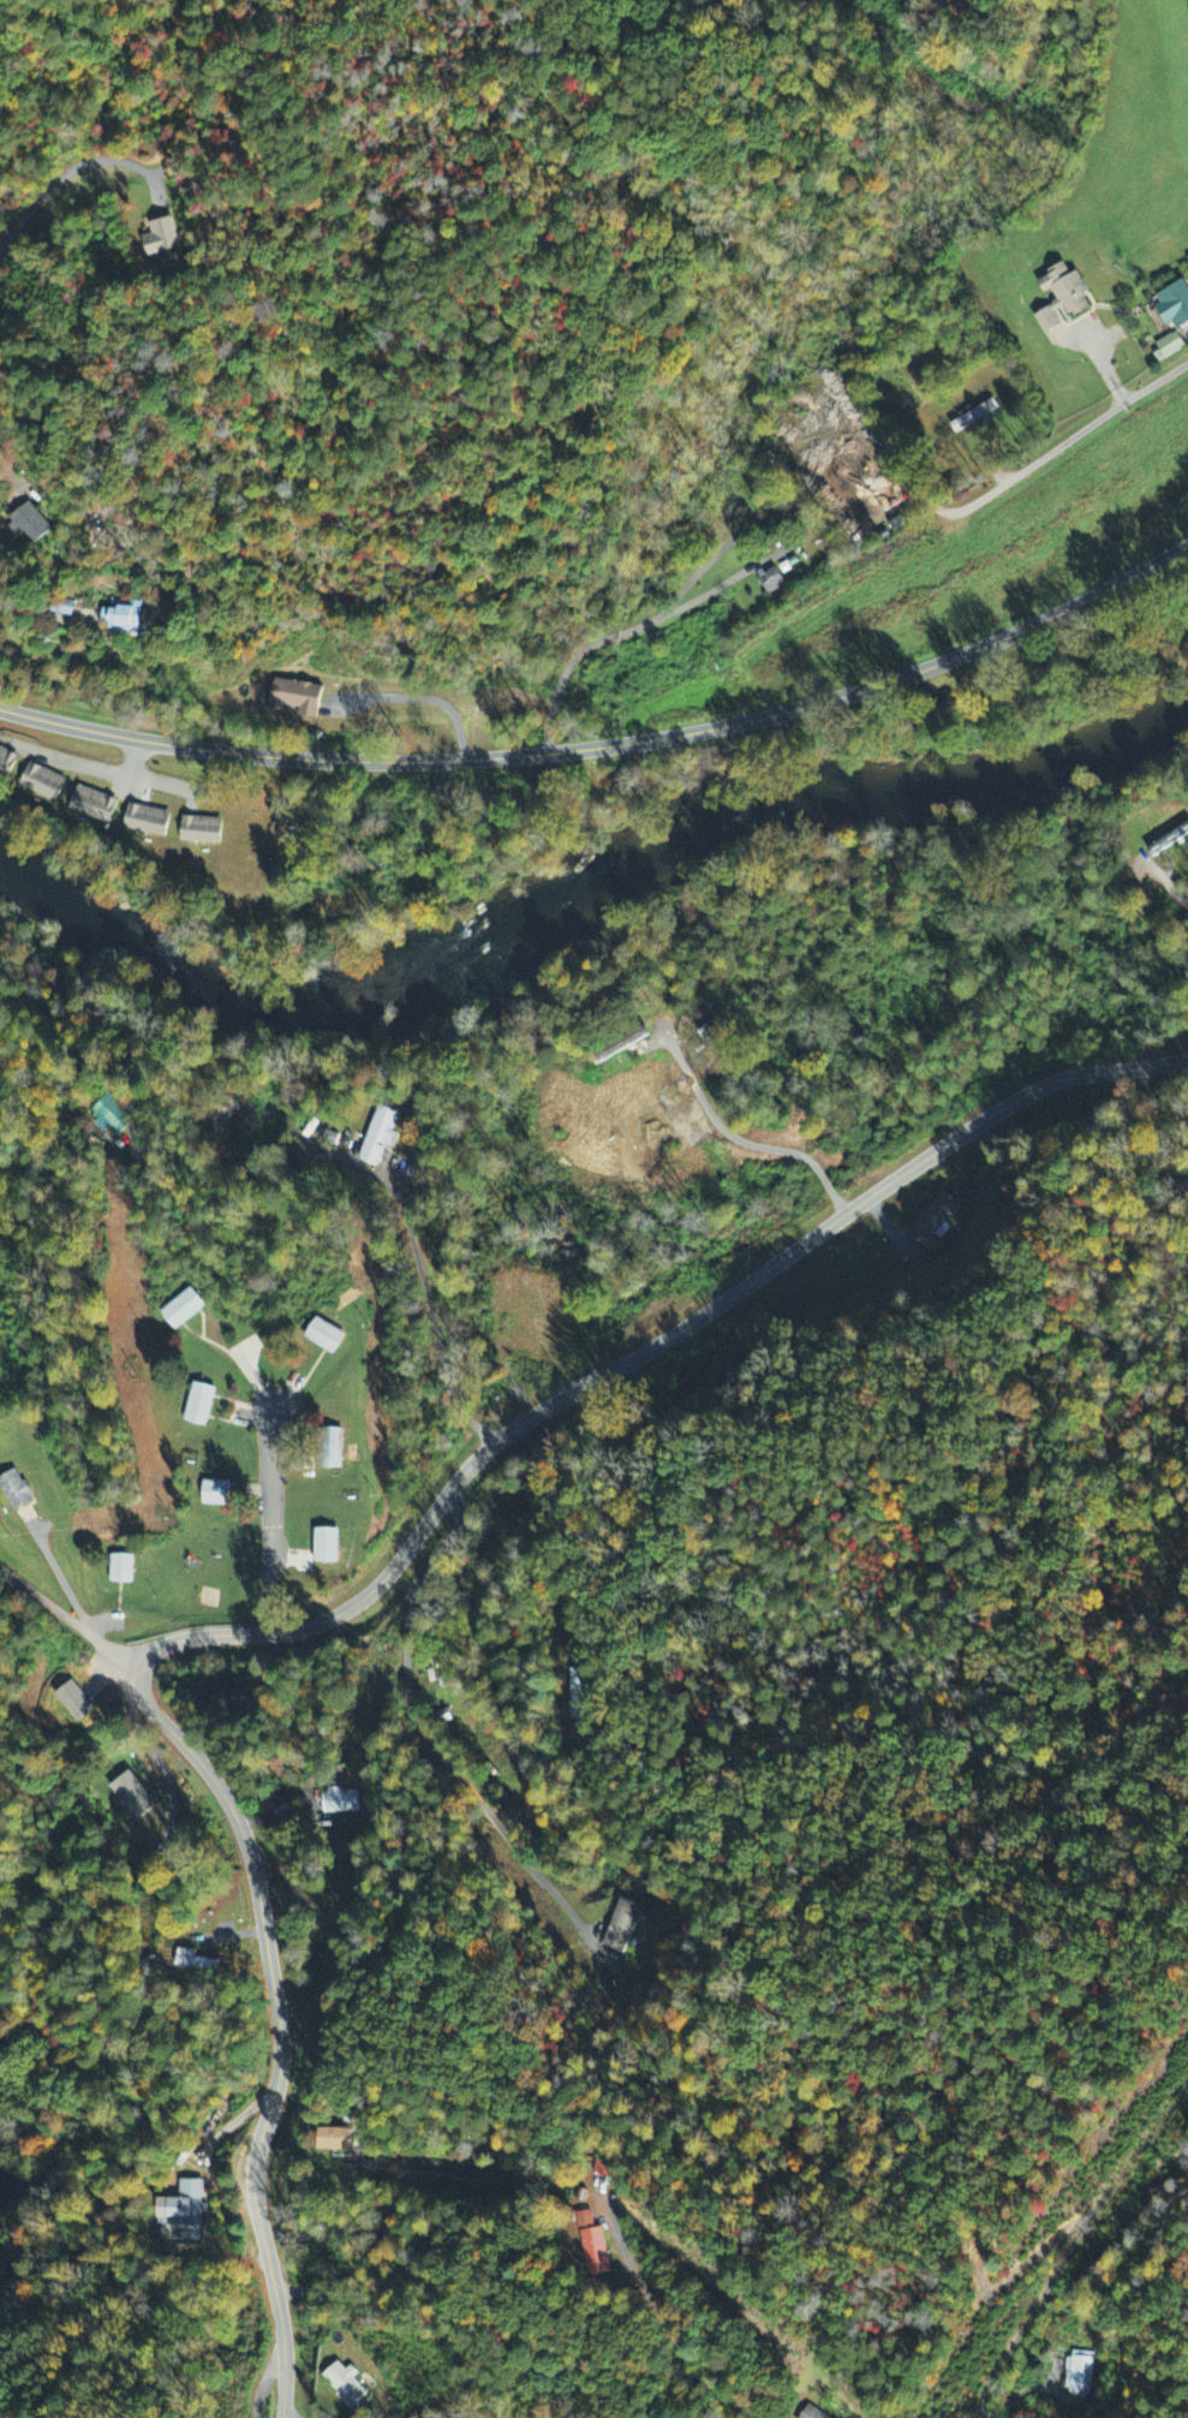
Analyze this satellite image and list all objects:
road: (58, 174)
building: (160, 239)
building: (1063, 298)
building: (1175, 306)
building: (1169, 347)
building: (974, 417)
road: (1070, 435)
building: (28, 525)
building: (771, 582)
building: (60, 608)
building: (120, 619)
road: (4, 697)
building: (295, 699)
road: (610, 745)
building: (7, 763)
building: (43, 784)
river: (885, 797)
building: (94, 806)
building: (147, 822)
building: (201, 832)
building: (1169, 842)
river: (287, 1010)
building: (621, 1044)
building: (112, 1115)
building: (380, 1134)
building: (933, 1220)
building: (183, 1309)
building: (324, 1336)
road: (649, 1348)
building: (198, 1405)
building: (332, 1449)
building: (14, 1490)
building: (215, 1494)
road: (271, 1520)
building: (326, 1546)
building: (121, 1570)
road: (70, 1619)
building: (574, 1696)
building: (133, 1795)
building: (340, 1801)
building: (621, 1926)
building: (195, 1961)
road: (279, 2025)
building: (334, 2140)
building: (608, 2167)
building: (183, 2205)
building: (593, 2247)
building: (1079, 2374)
road: (268, 2381)
building: (347, 2388)
building: (812, 2413)

